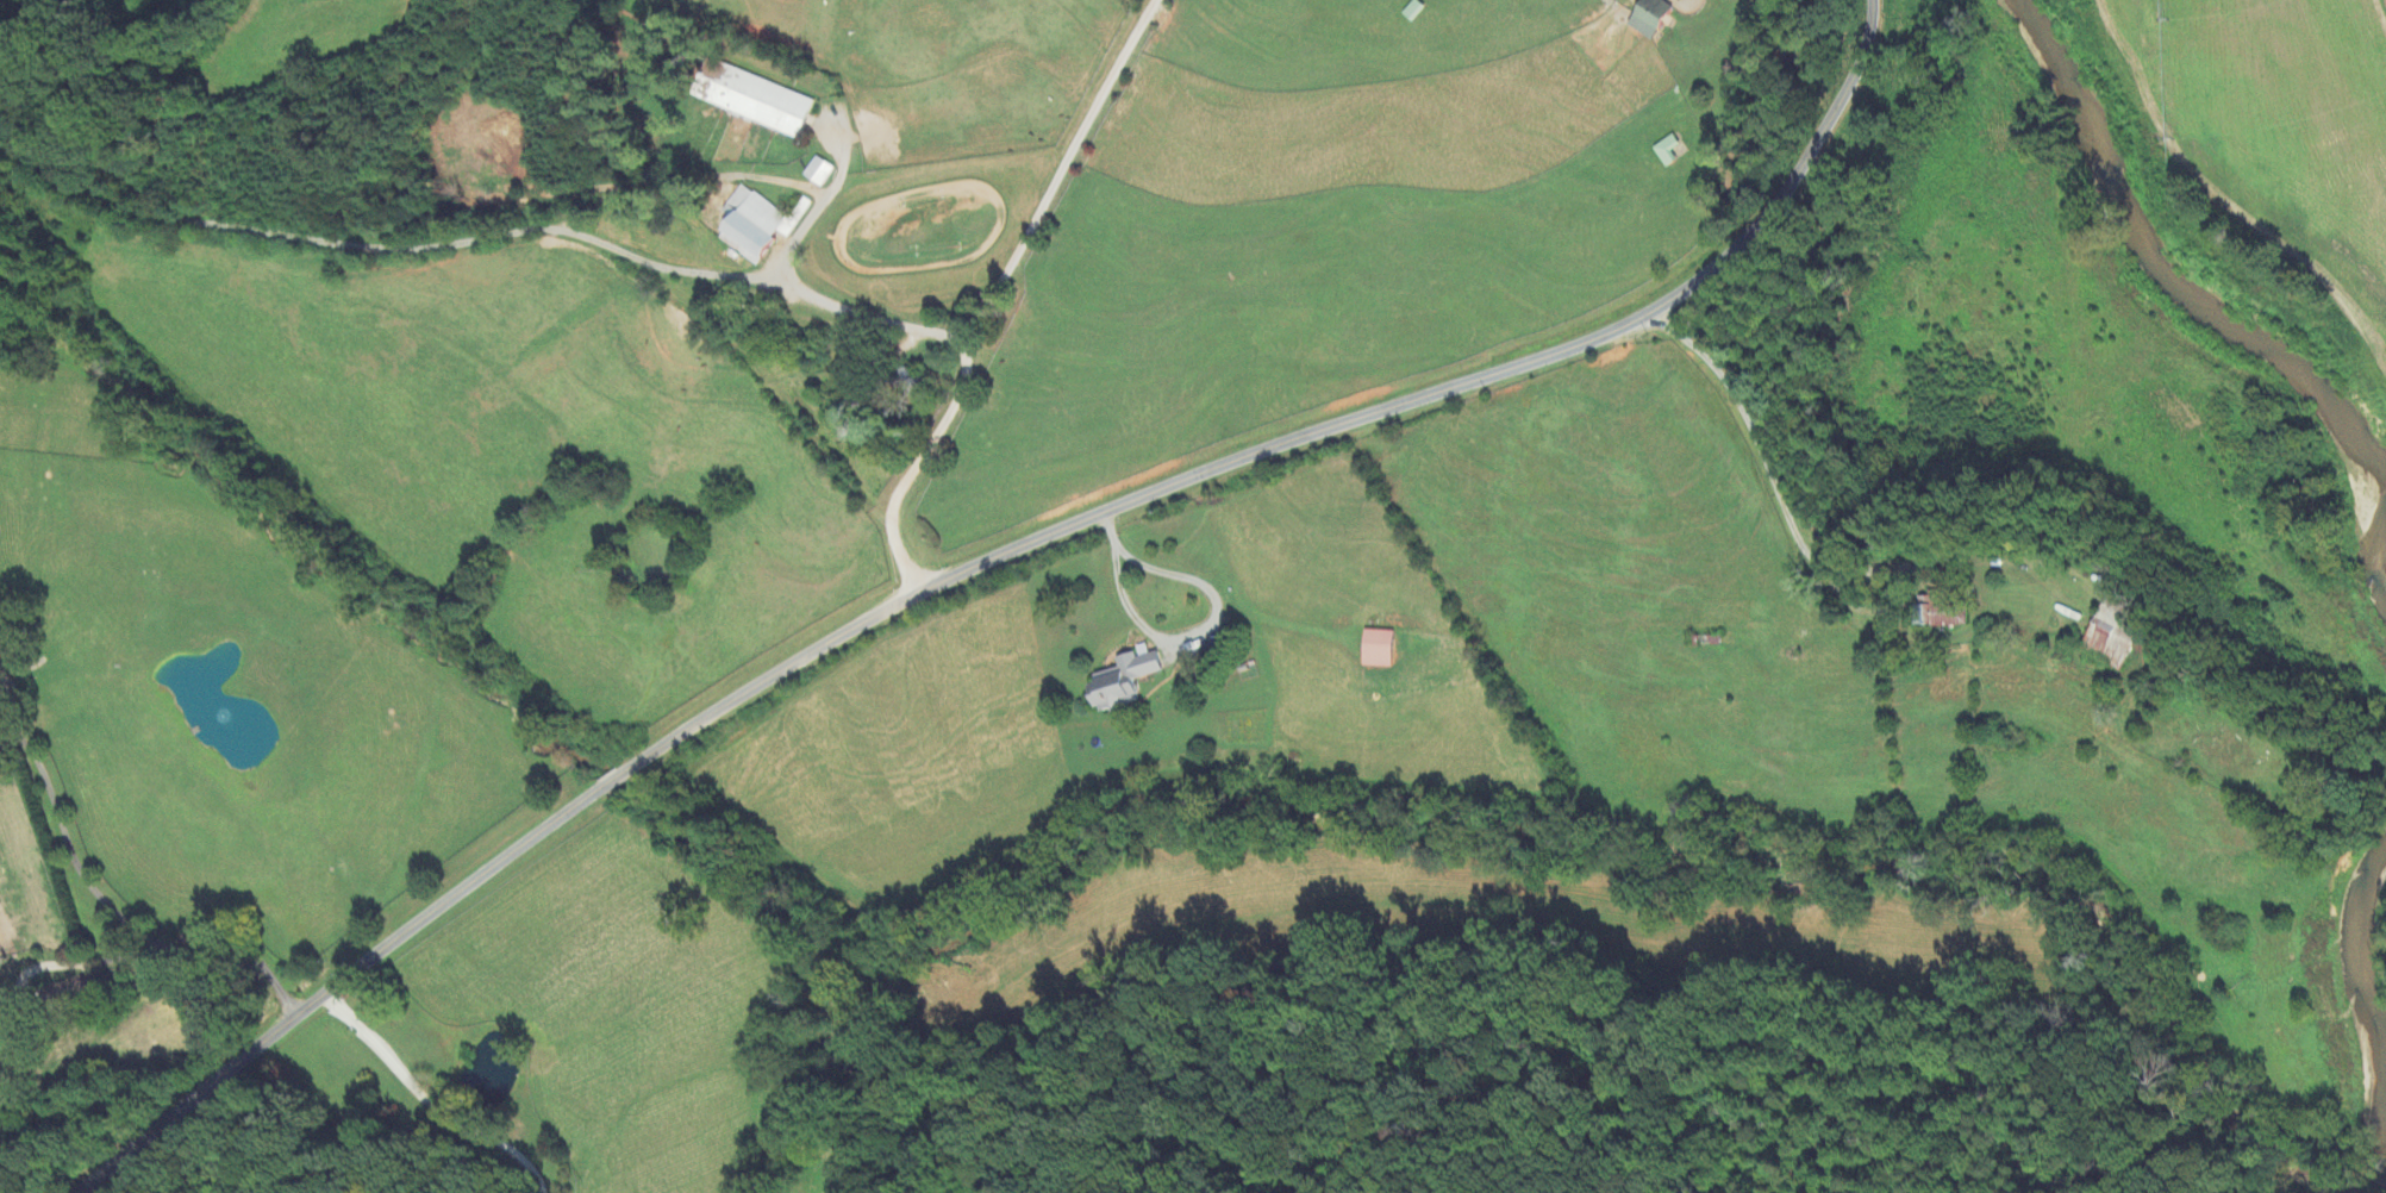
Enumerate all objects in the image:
road: (31, 18)
road: (820, 205)
road: (488, 235)
road: (1008, 289)
river: (2207, 304)
road: (1786, 501)
road: (985, 562)
road: (1182, 637)
road: (114, 908)
road: (73, 961)
river: (2368, 973)
road: (427, 1103)

